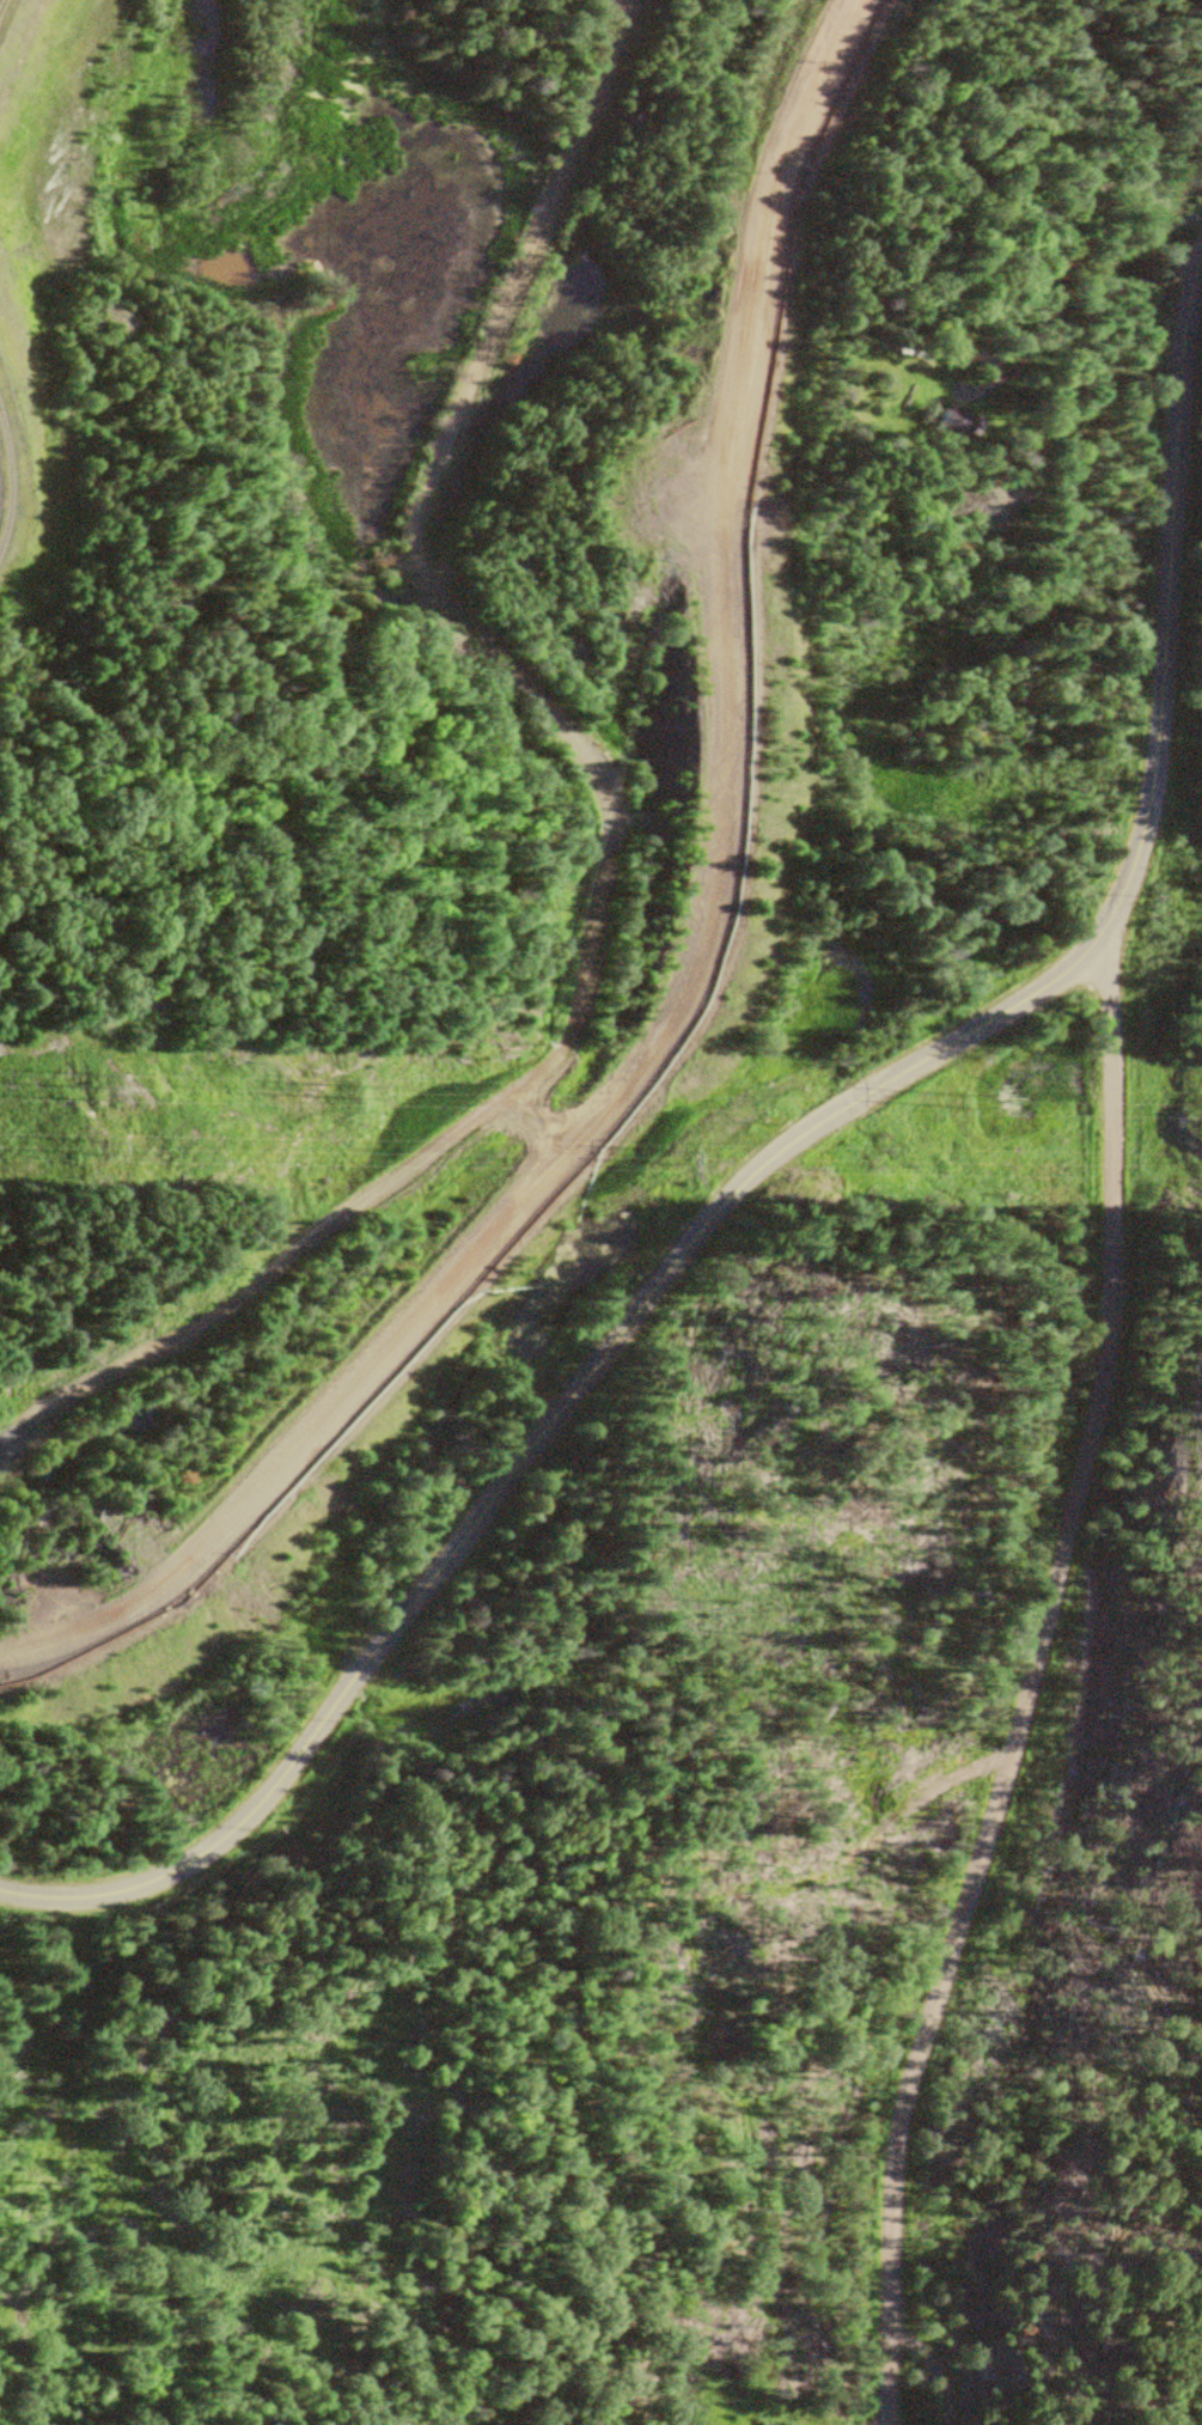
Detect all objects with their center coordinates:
road: (1067, 251)
road: (1011, 500)
road: (610, 883)
road: (694, 995)
road: (769, 1146)
road: (1026, 1671)
road: (13, 1844)
road: (920, 2368)

